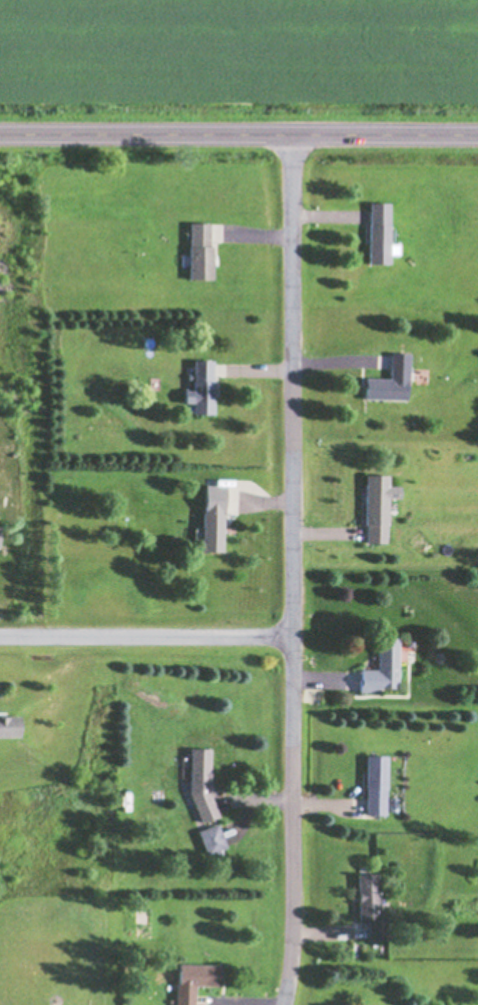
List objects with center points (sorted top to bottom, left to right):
crop: (239, 62)
road: (239, 132)
building: (379, 232)
building: (202, 247)
building: (390, 379)
building: (201, 387)
building: (377, 506)
building: (213, 517)
road: (293, 569)
road: (146, 634)
building: (382, 666)
building: (9, 726)
building: (201, 783)
building: (376, 784)
building: (212, 838)
building: (371, 906)
building: (195, 980)

